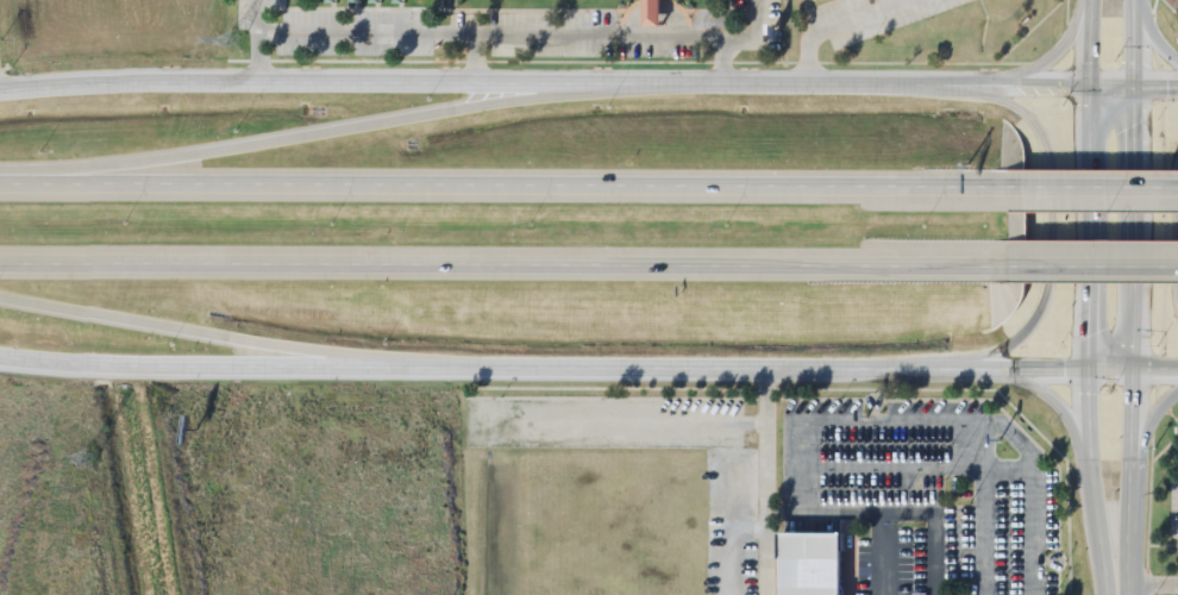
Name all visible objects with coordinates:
building: (657, 12)
road: (841, 24)
road: (1155, 32)
road: (522, 36)
road: (257, 40)
road: (1133, 43)
road: (1054, 50)
road: (472, 58)
road: (721, 62)
road: (568, 82)
traffic signals: (1135, 86)
road: (1157, 86)
traffic signals: (1086, 87)
road: (312, 134)
road: (502, 186)
road: (1091, 188)
road: (1044, 225)
road: (1170, 233)
road: (503, 263)
road: (1092, 265)
road: (1086, 297)
road: (220, 336)
road: (1132, 340)
road: (588, 370)
traffic signals: (1086, 371)
traffic signals: (1132, 372)
road: (1060, 413)
road: (1151, 414)
road: (879, 421)
road: (917, 466)
road: (764, 483)
parking lot: (922, 493)
road: (983, 508)
road: (933, 553)
road: (883, 555)
building: (813, 566)

